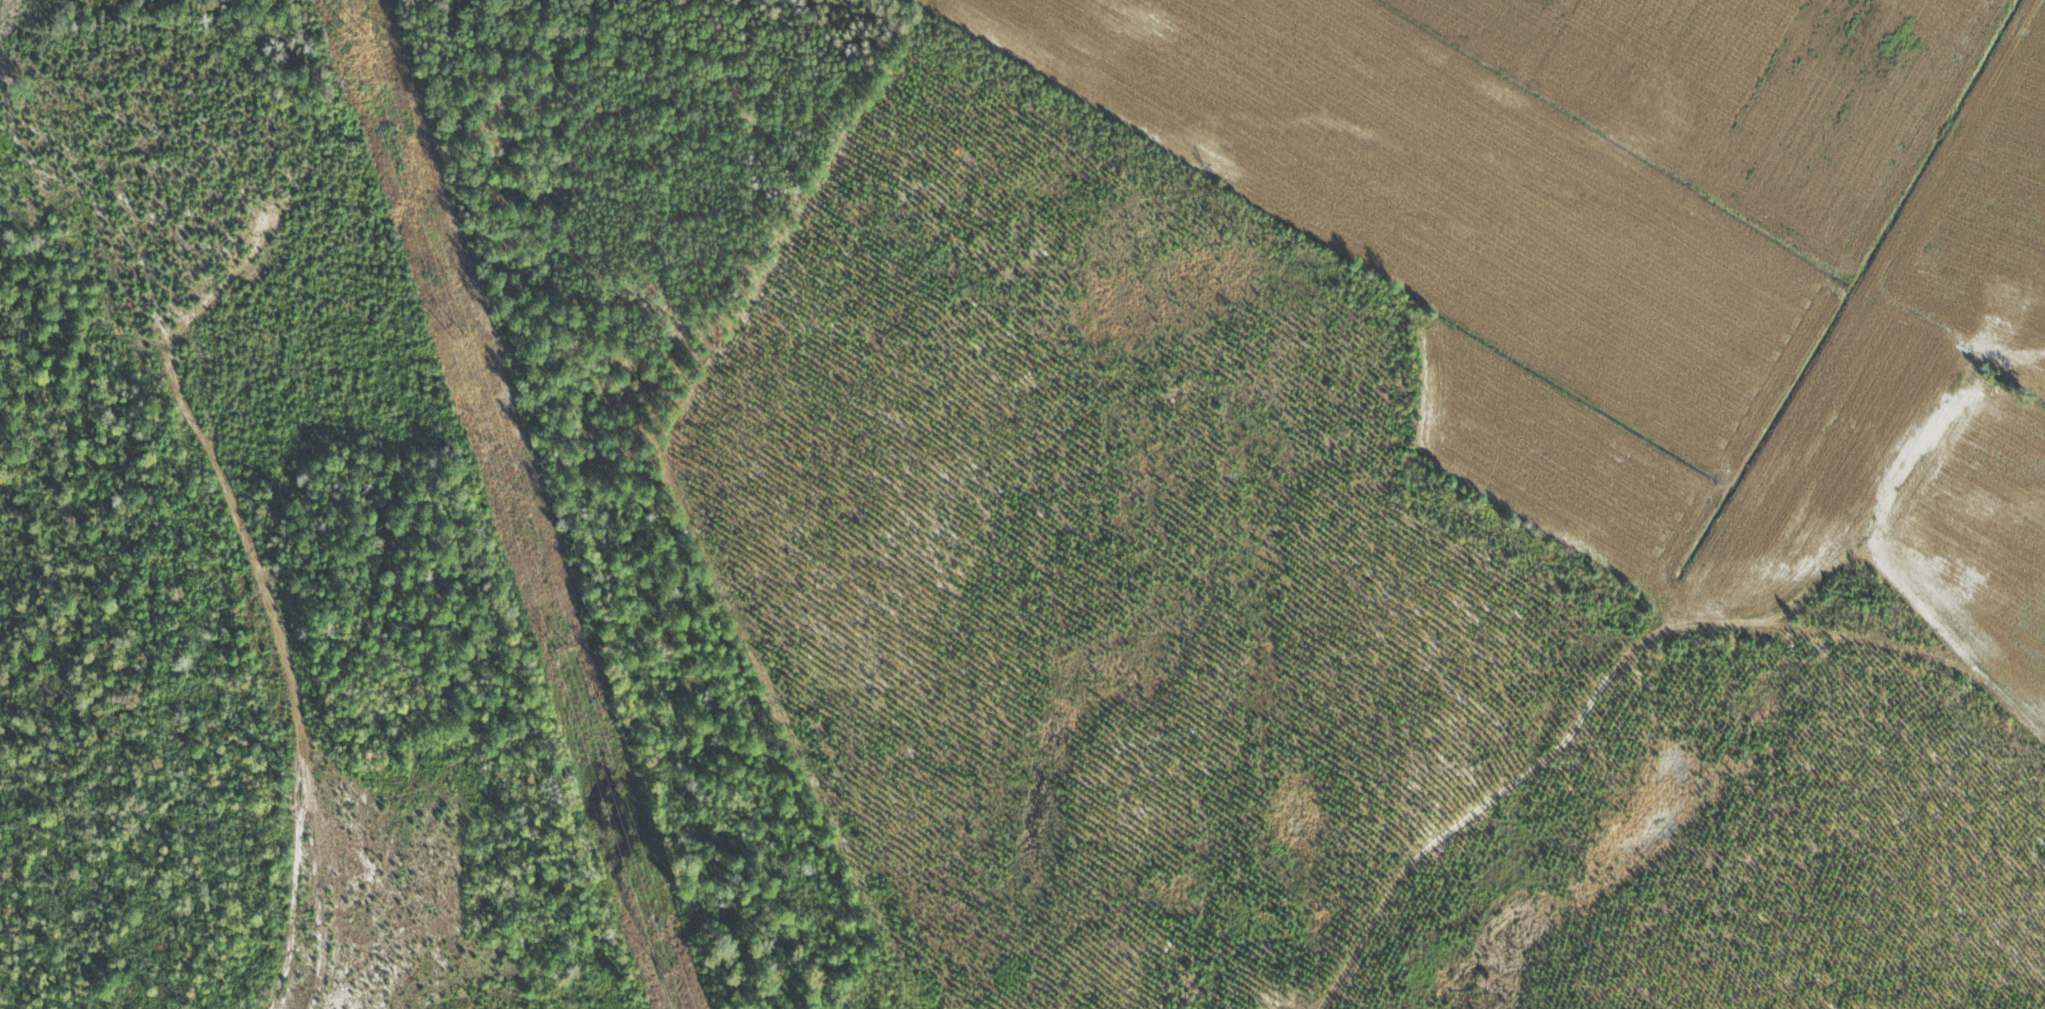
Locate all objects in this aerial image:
power tower: (354, 35)
road: (1407, 613)
power tower: (561, 647)
road: (1685, 777)
power tower: (671, 972)

